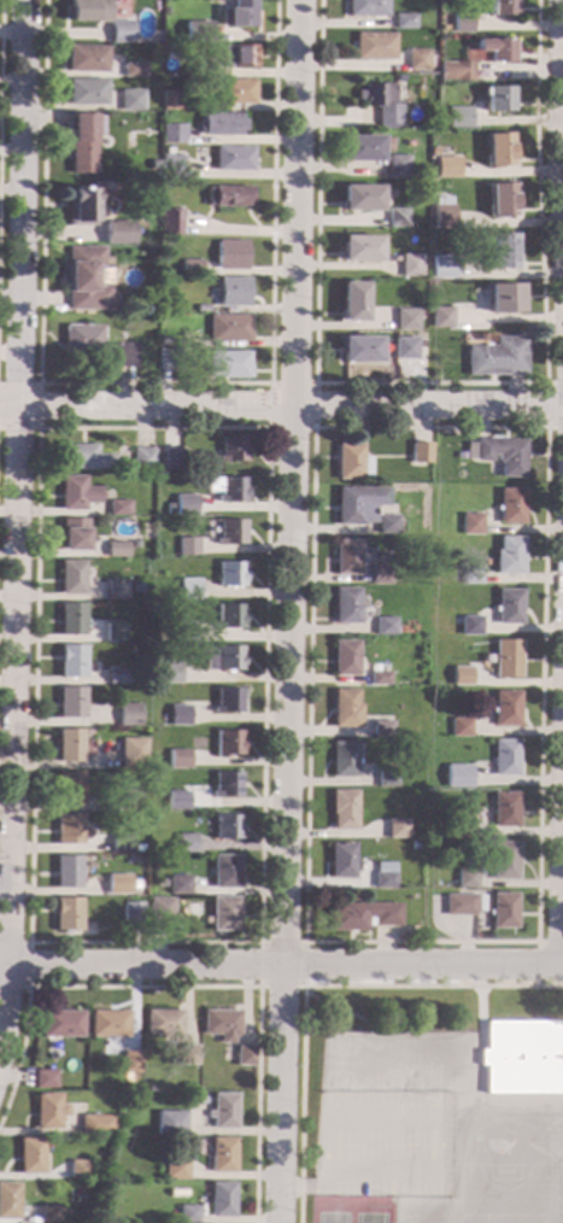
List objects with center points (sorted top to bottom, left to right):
building: (502, 7)
building: (366, 8)
building: (84, 10)
building: (165, 12)
building: (237, 14)
building: (403, 22)
building: (463, 23)
road: (0, 24)
building: (199, 31)
building: (122, 33)
building: (374, 47)
building: (497, 51)
building: (237, 57)
building: (87, 59)
building: (417, 60)
building: (133, 70)
building: (201, 70)
building: (456, 71)
building: (399, 77)
building: (87, 93)
building: (235, 93)
building: (129, 100)
building: (171, 100)
building: (497, 100)
building: (381, 103)
road: (549, 105)
building: (459, 117)
building: (440, 122)
road: (562, 122)
building: (219, 124)
road: (562, 129)
building: (172, 135)
building: (83, 142)
building: (360, 148)
building: (499, 150)
building: (168, 151)
building: (433, 152)
building: (233, 159)
building: (153, 165)
building: (171, 166)
building: (398, 166)
building: (447, 168)
building: (421, 172)
building: (229, 197)
building: (359, 199)
building: (502, 200)
building: (82, 211)
building: (442, 213)
building: (397, 218)
building: (170, 222)
building: (117, 233)
building: (359, 250)
building: (503, 251)
building: (231, 256)
building: (410, 267)
building: (441, 267)
building: (190, 268)
building: (84, 280)
building: (233, 293)
building: (504, 298)
building: (436, 302)
building: (352, 303)
building: (163, 305)
building: (421, 316)
building: (440, 318)
building: (405, 320)
building: (229, 329)
building: (164, 341)
building: (80, 343)
building: (404, 349)
building: (358, 350)
building: (124, 356)
building: (166, 358)
building: (495, 358)
building: (228, 365)
road: (154, 384)
road: (429, 384)
road: (39, 404)
road: (545, 405)
road: (281, 408)
road: (266, 428)
road: (268, 428)
road: (312, 428)
building: (233, 450)
building: (420, 452)
building: (459, 456)
building: (498, 456)
building: (84, 458)
building: (143, 460)
building: (171, 460)
building: (351, 463)
building: (417, 475)
building: (231, 490)
building: (76, 493)
building: (359, 504)
building: (186, 505)
building: (511, 507)
building: (118, 508)
building: (386, 525)
building: (470, 525)
road: (17, 532)
building: (230, 532)
building: (72, 534)
building: (133, 544)
building: (188, 546)
building: (116, 550)
building: (509, 556)
building: (346, 557)
building: (118, 574)
building: (230, 575)
building: (379, 575)
building: (470, 577)
building: (71, 578)
building: (137, 587)
building: (189, 590)
building: (116, 591)
building: (346, 607)
building: (509, 608)
road: (288, 611)
building: (229, 616)
building: (71, 620)
building: (385, 626)
building: (470, 626)
building: (115, 632)
building: (184, 632)
building: (224, 659)
building: (345, 659)
building: (508, 659)
building: (70, 661)
building: (171, 675)
building: (117, 677)
building: (462, 677)
building: (379, 679)
building: (229, 701)
building: (70, 703)
building: (346, 709)
building: (506, 709)
building: (128, 715)
building: (180, 715)
building: (461, 727)
building: (382, 728)
building: (228, 744)
building: (69, 745)
building: (125, 759)
building: (178, 759)
building: (506, 759)
building: (344, 760)
building: (387, 777)
building: (458, 777)
building: (227, 785)
building: (69, 788)
building: (129, 800)
building: (177, 801)
building: (505, 809)
building: (344, 811)
building: (227, 827)
building: (69, 829)
building: (463, 829)
building: (397, 830)
building: (121, 843)
building: (187, 844)
building: (416, 845)
building: (137, 849)
building: (341, 860)
building: (505, 861)
building: (66, 872)
building: (225, 872)
building: (385, 874)
building: (465, 878)
building: (118, 886)
building: (180, 886)
road: (562, 902)
building: (463, 905)
building: (160, 911)
building: (504, 911)
building: (131, 913)
building: (66, 914)
building: (225, 914)
building: (363, 917)
road: (550, 942)
road: (30, 964)
road: (281, 966)
road: (190, 987)
road: (259, 987)
road: (313, 987)
road: (335, 1010)
road: (480, 1018)
building: (164, 1023)
building: (109, 1024)
building: (61, 1025)
building: (222, 1025)
building: (189, 1055)
building: (52, 1057)
building: (246, 1057)
building: (522, 1058)
building: (131, 1063)
park: (339, 1063)
park: (394, 1072)
park: (433, 1072)
building: (46, 1079)
building: (49, 1111)
building: (223, 1112)
road: (440, 1119)
building: (98, 1125)
building: (174, 1129)
parking lot: (383, 1143)
road: (451, 1143)
building: (223, 1155)
building: (33, 1157)
building: (80, 1169)
building: (176, 1170)
road: (304, 1187)
park: (505, 1193)
building: (222, 1199)
building: (10, 1201)
park: (351, 1209)
building: (52, 1211)
building: (188, 1215)
park: (540, 1215)
building: (66, 1216)

